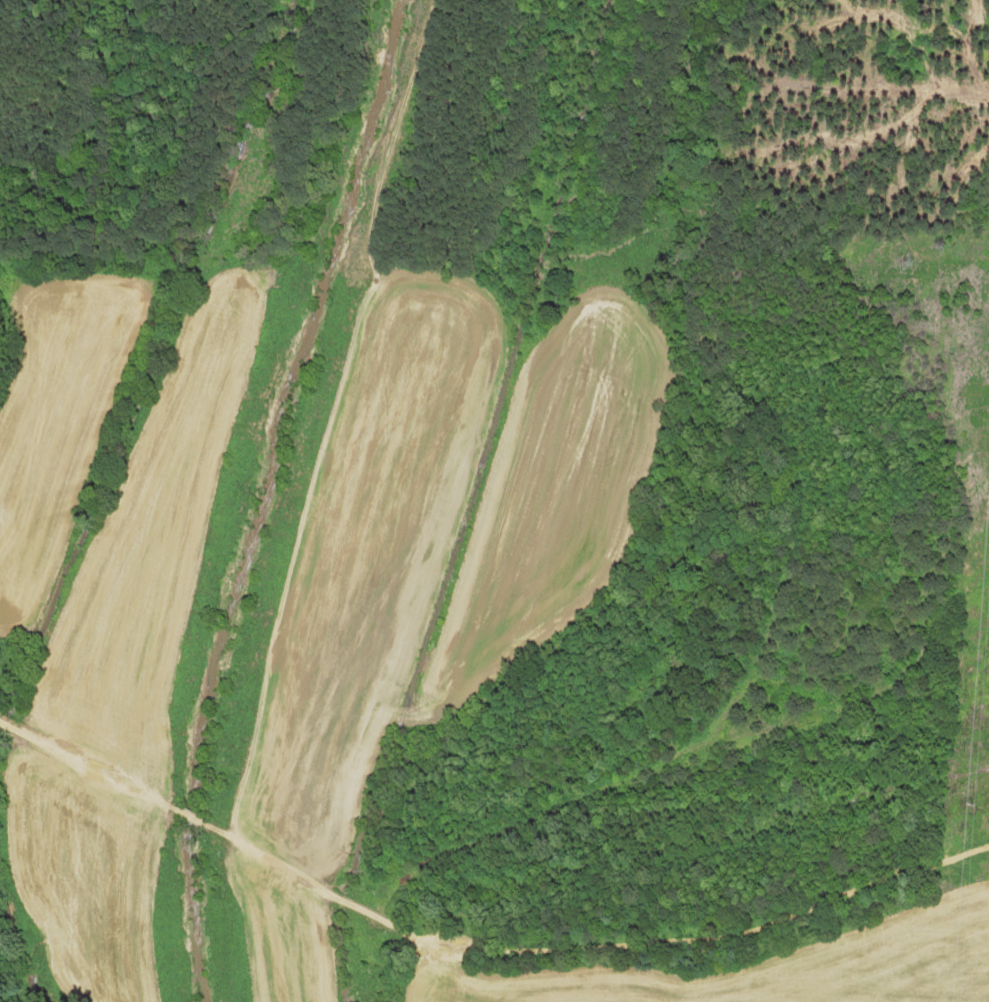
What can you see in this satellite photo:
road: (479, 990)

